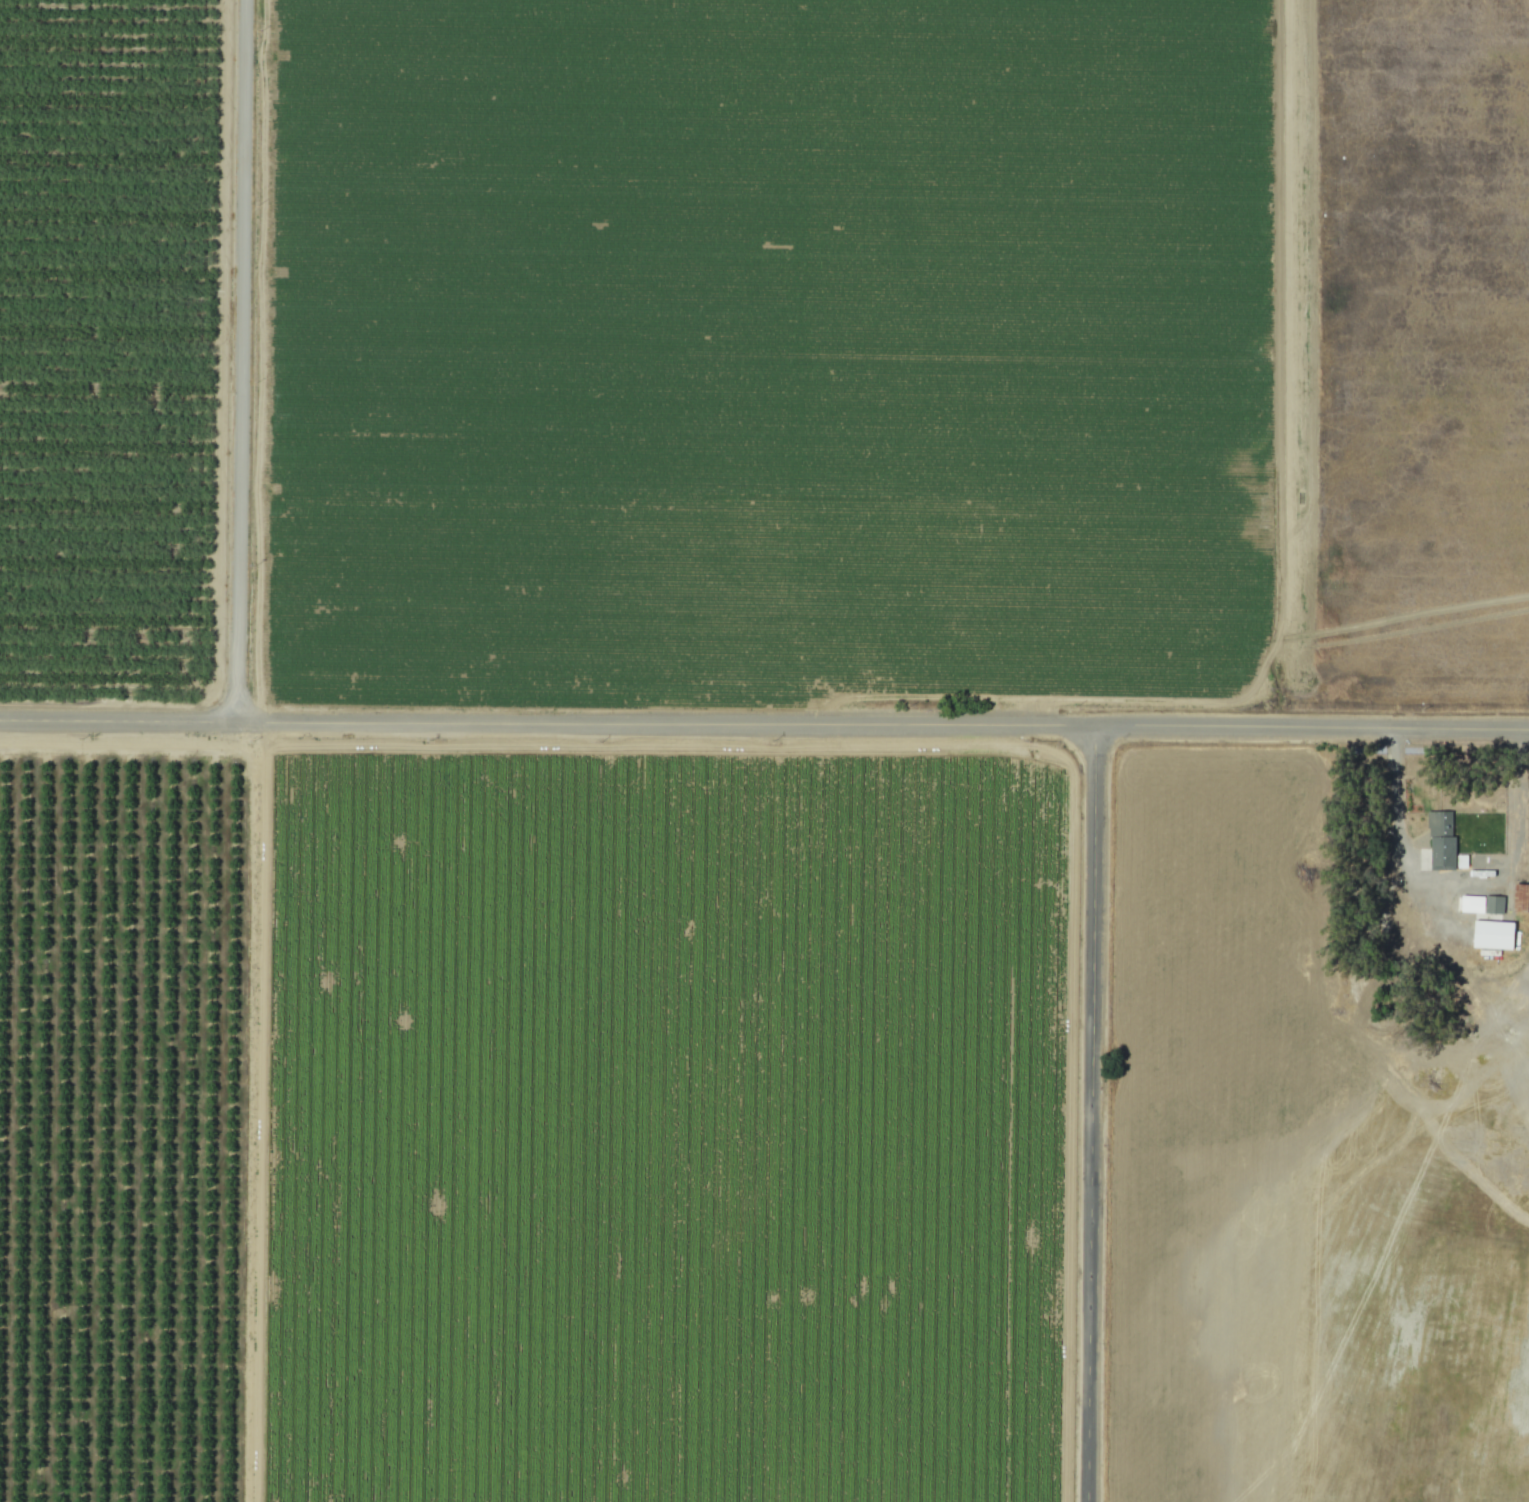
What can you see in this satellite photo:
road: (230, 358)
road: (1279, 593)
road: (764, 719)
building: (1446, 852)
road: (1445, 878)
building: (1521, 897)
building: (1491, 922)
road: (251, 1110)
road: (1087, 1112)

